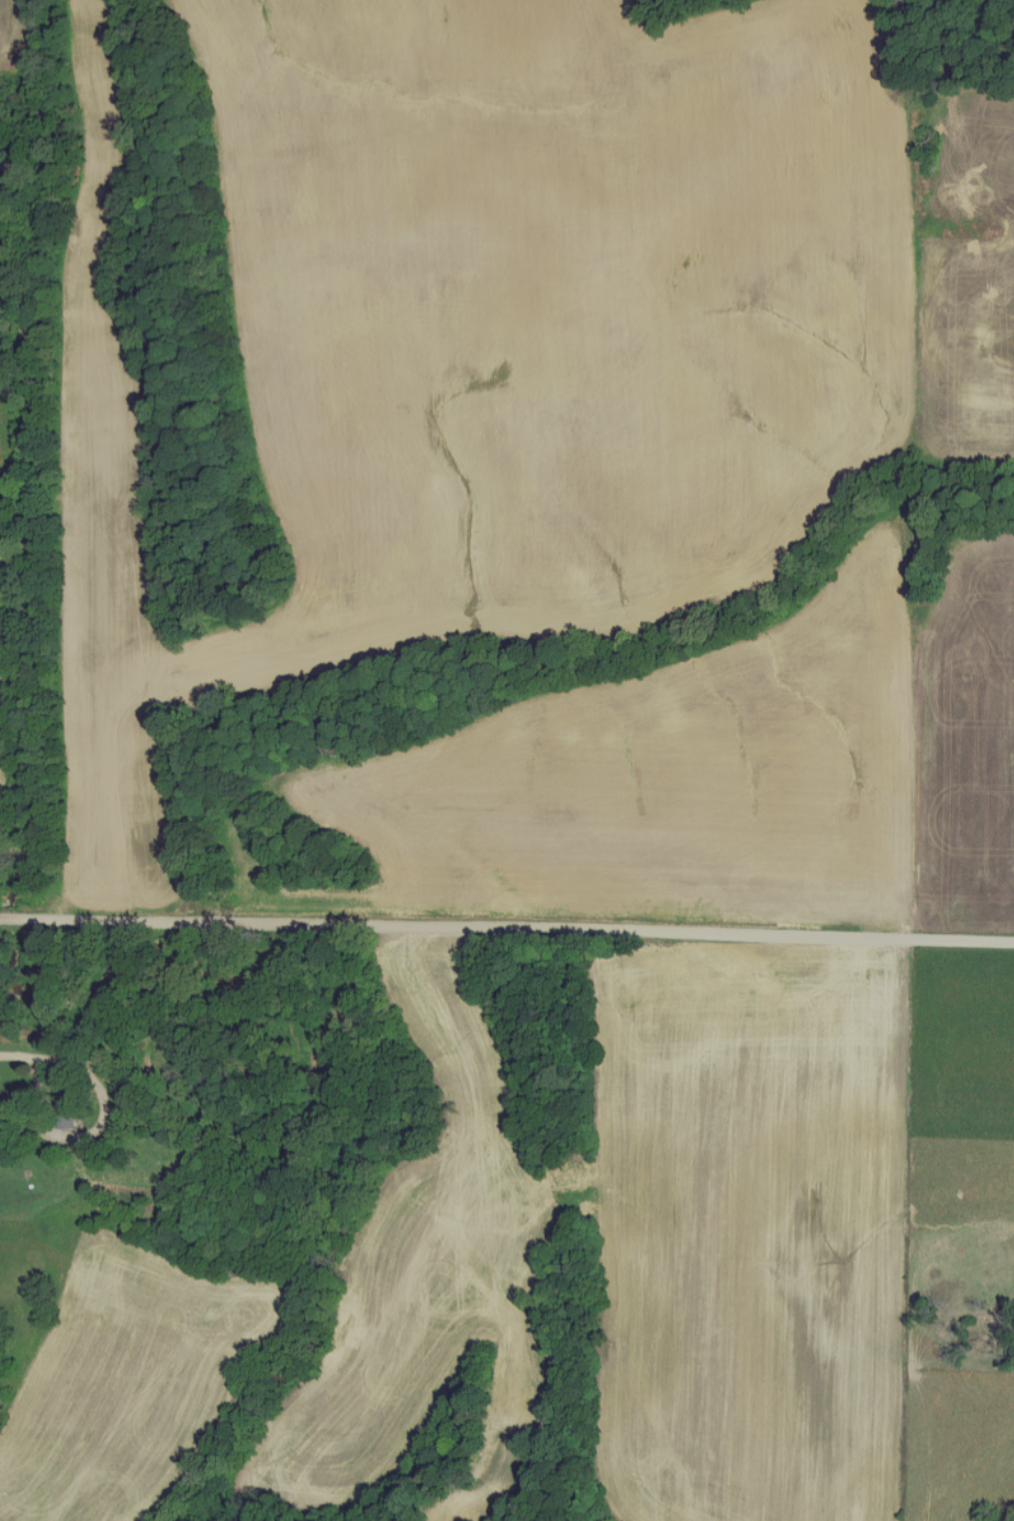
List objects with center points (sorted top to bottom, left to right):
road: (507, 926)
road: (57, 1058)

